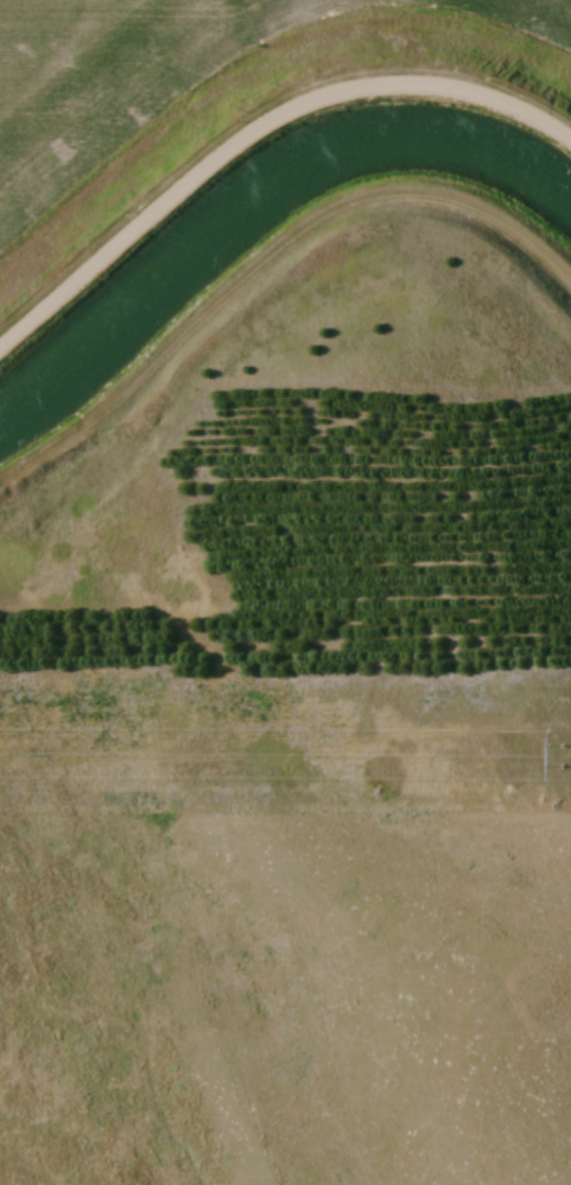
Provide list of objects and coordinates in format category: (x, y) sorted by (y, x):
road: (261, 134)
power tower: (562, 756)

